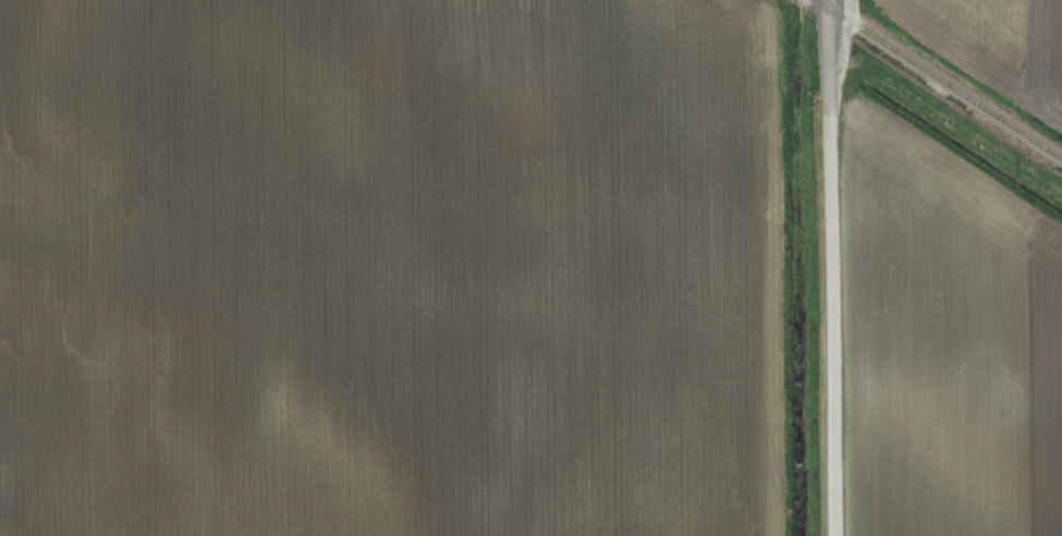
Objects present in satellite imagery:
railway: (940, 78)
road: (831, 267)

